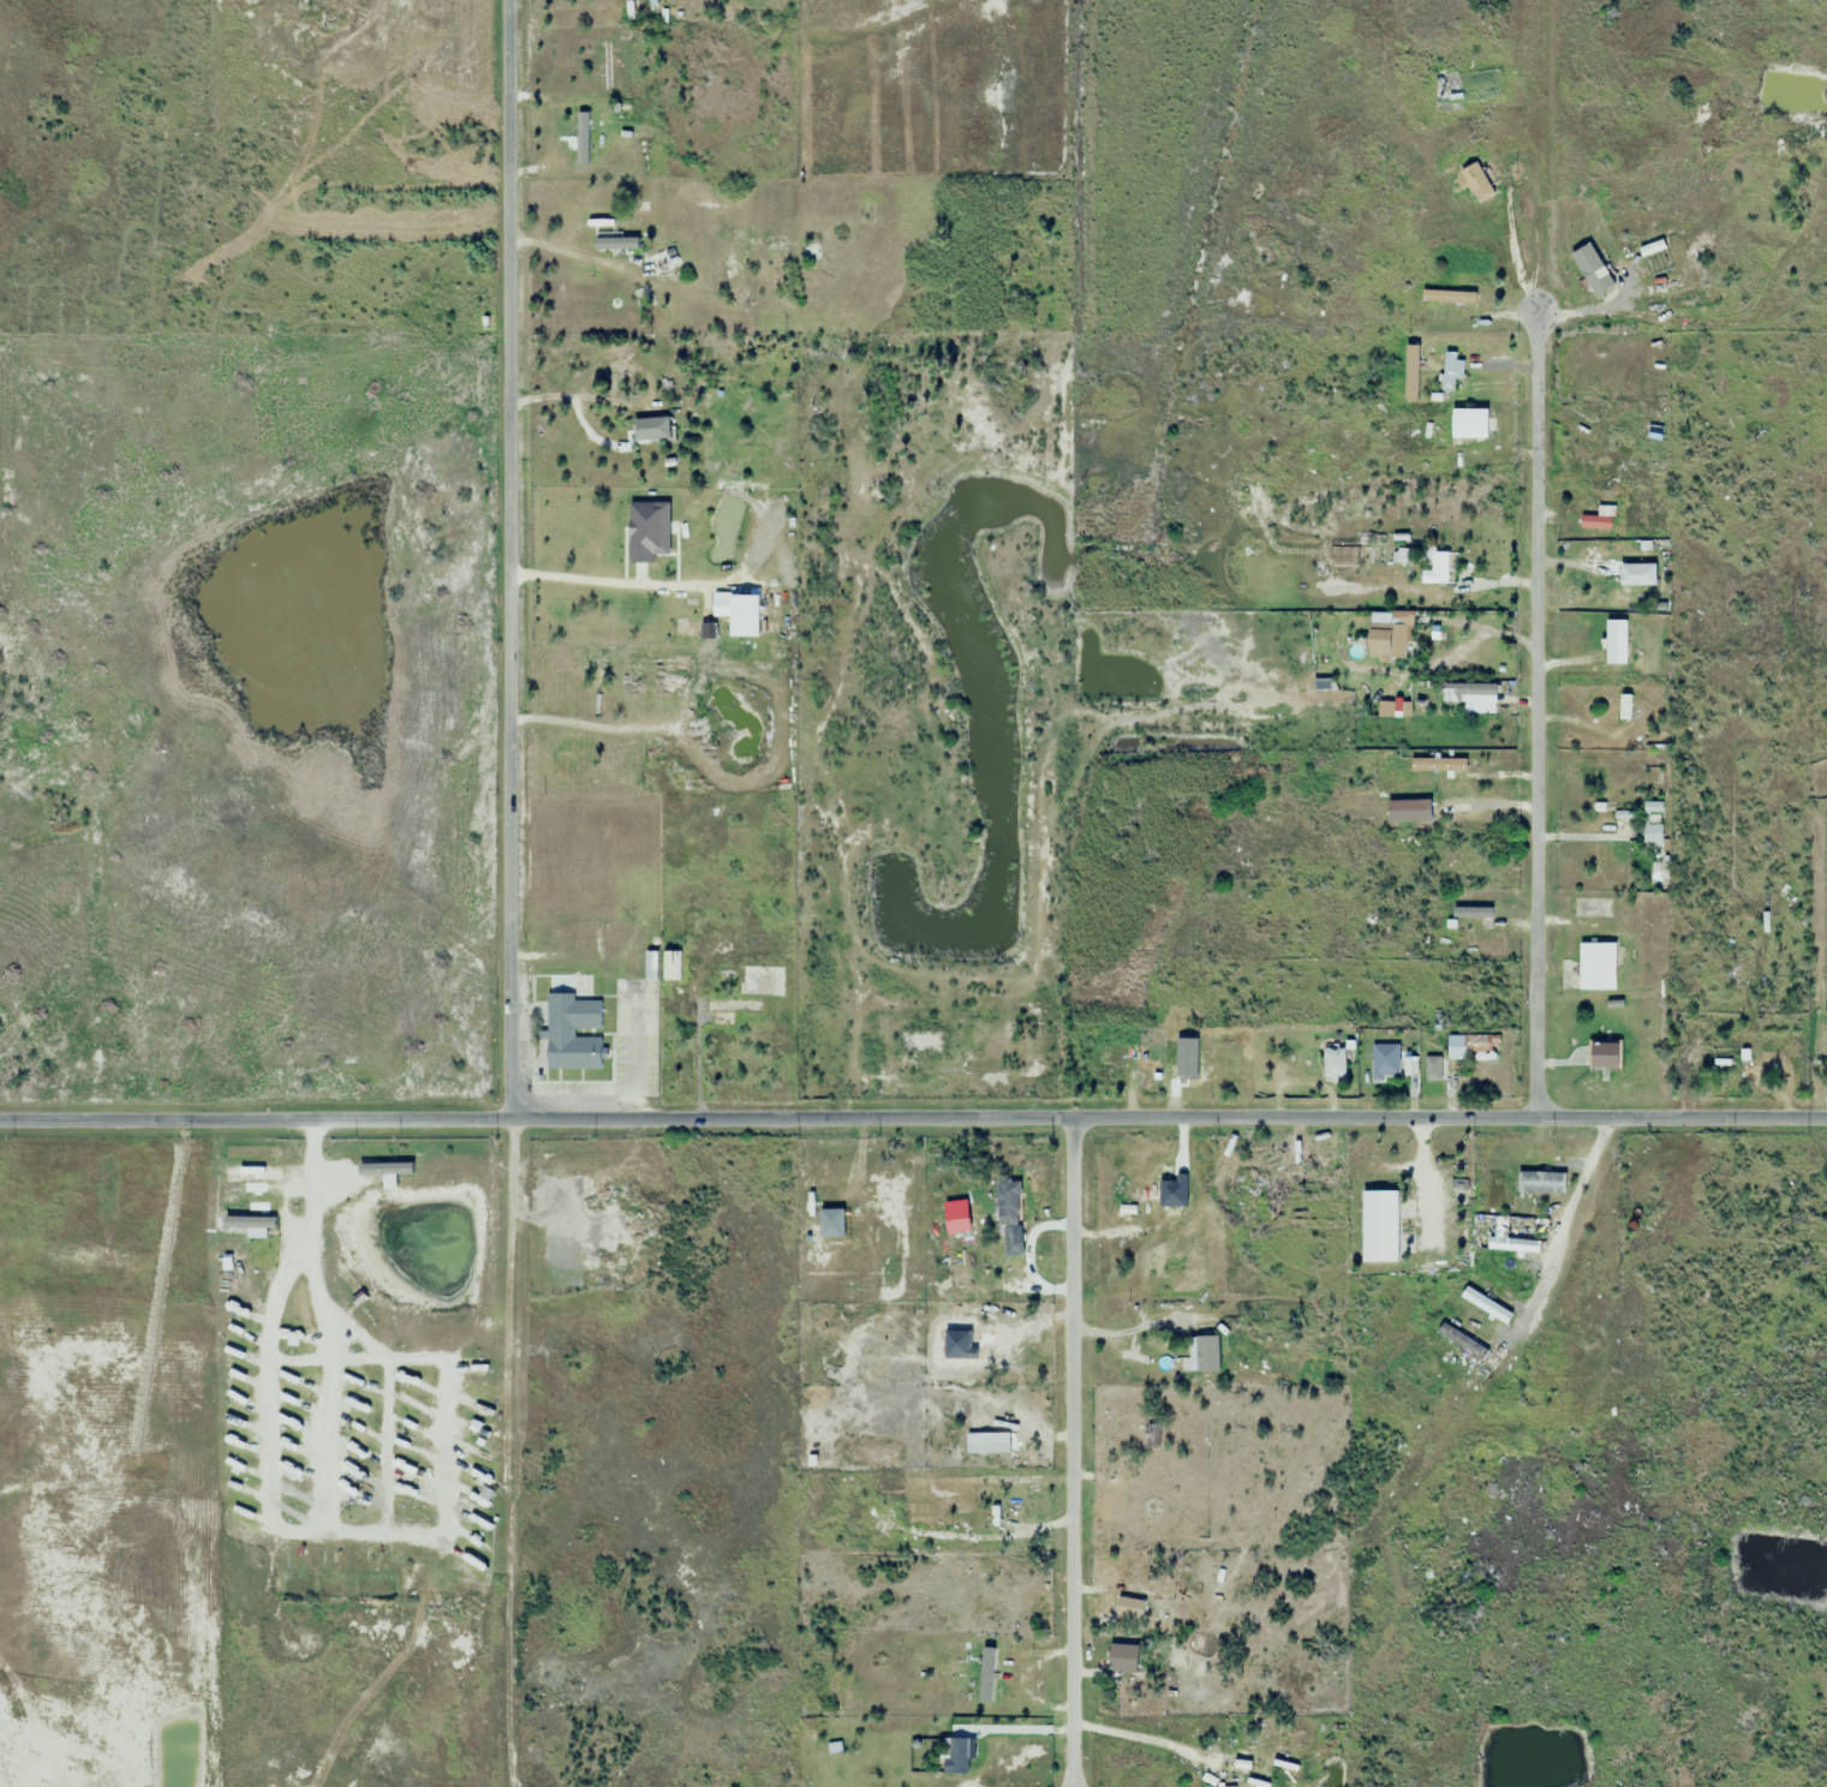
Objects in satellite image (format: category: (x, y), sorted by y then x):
building: (607, 65)
building: (1459, 86)
building: (581, 133)
building: (1476, 181)
building: (1815, 208)
building: (866, 214)
building: (613, 238)
building: (810, 252)
building: (671, 262)
building: (1604, 281)
building: (742, 295)
building: (616, 364)
building: (1452, 371)
building: (1471, 424)
building: (1593, 490)
road: (506, 558)
building: (1439, 566)
building: (1624, 584)
building: (1398, 643)
building: (1616, 646)
building: (655, 664)
building: (599, 683)
building: (1480, 689)
road: (1532, 716)
building: (1652, 835)
building: (1470, 912)
building: (1598, 967)
building: (759, 981)
building: (572, 1023)
building: (1470, 1046)
building: (1602, 1057)
building: (1696, 1058)
building: (1110, 1060)
building: (1216, 1062)
building: (1333, 1063)
building: (1385, 1070)
building: (1432, 1070)
road: (913, 1113)
building: (1262, 1194)
building: (1379, 1225)
building: (1176, 1245)
building: (1004, 1263)
building: (1121, 1314)
building: (968, 1361)
building: (1129, 1364)
building: (1301, 1365)
building: (1147, 1436)
building: (983, 1446)
road: (1068, 1450)
building: (1128, 1610)
building: (1160, 1615)
building: (1123, 1655)
building: (995, 1677)
road: (1124, 1726)
building: (1271, 1746)
building: (957, 1756)
building: (1229, 1764)

